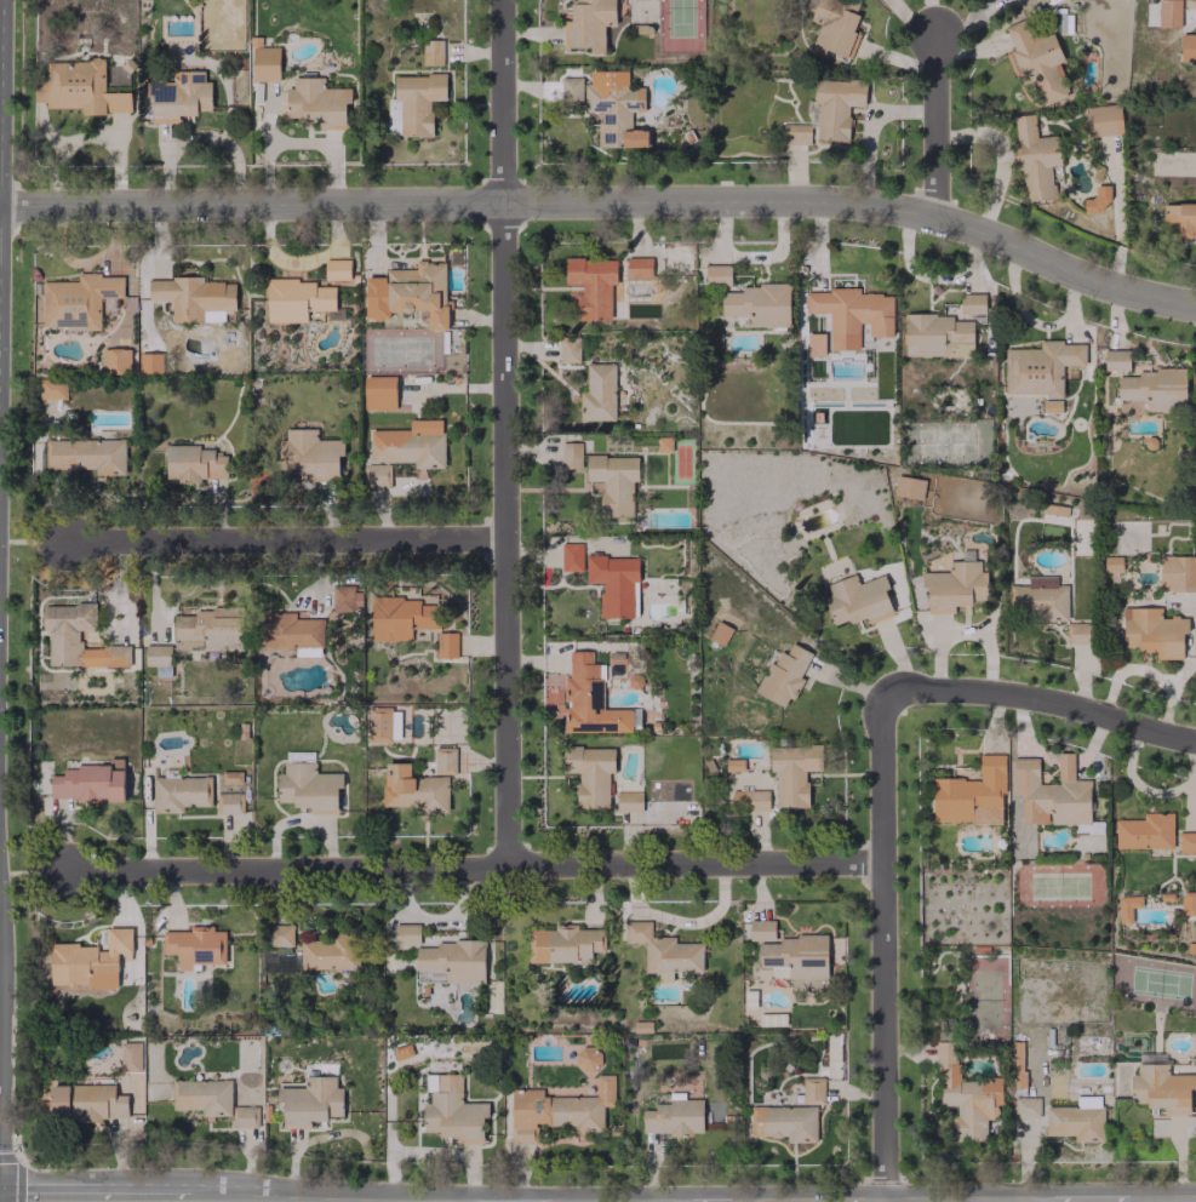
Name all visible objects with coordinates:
building: (1168, 13)
building: (588, 24)
building: (832, 25)
road: (929, 32)
building: (1188, 47)
building: (431, 52)
building: (1036, 61)
building: (264, 63)
building: (79, 88)
building: (570, 90)
building: (179, 97)
building: (316, 102)
building: (417, 102)
building: (835, 105)
building: (614, 108)
building: (1103, 120)
road: (939, 126)
building: (794, 133)
building: (1034, 158)
road: (606, 199)
building: (1095, 200)
building: (1181, 218)
building: (637, 267)
building: (336, 269)
building: (716, 274)
building: (407, 293)
building: (191, 296)
building: (78, 300)
building: (298, 300)
building: (759, 304)
building: (971, 305)
building: (851, 310)
building: (933, 333)
building: (567, 349)
building: (1114, 359)
building: (115, 360)
building: (149, 362)
building: (1040, 367)
building: (51, 389)
building: (1152, 389)
building: (378, 391)
building: (597, 393)
building: (1051, 406)
road: (505, 430)
building: (663, 443)
building: (404, 450)
building: (309, 453)
building: (86, 454)
building: (570, 454)
building: (194, 463)
building: (613, 482)
building: (908, 487)
road: (296, 534)
building: (571, 556)
building: (1111, 563)
building: (1177, 573)
building: (614, 584)
building: (955, 584)
building: (1042, 597)
building: (857, 600)
building: (344, 601)
building: (400, 617)
building: (208, 630)
building: (290, 631)
building: (1149, 631)
building: (719, 633)
building: (1076, 633)
building: (76, 637)
building: (446, 645)
building: (158, 658)
building: (783, 675)
building: (585, 697)
road: (1041, 699)
building: (385, 725)
building: (444, 760)
building: (792, 772)
building: (589, 773)
building: (88, 782)
building: (307, 786)
building: (413, 789)
building: (179, 792)
building: (1051, 792)
building: (971, 795)
building: (749, 799)
building: (628, 801)
building: (228, 803)
building: (1144, 831)
building: (1186, 842)
road: (487, 860)
building: (1188, 901)
building: (1127, 906)
building: (279, 934)
building: (563, 943)
road: (885, 945)
building: (195, 946)
building: (330, 952)
building: (663, 952)
building: (791, 954)
building: (442, 957)
building: (772, 1019)
building: (401, 1052)
building: (586, 1053)
building: (130, 1057)
building: (1160, 1086)
building: (812, 1091)
building: (201, 1095)
building: (966, 1095)
building: (310, 1101)
building: (86, 1103)
building: (1026, 1106)
building: (451, 1109)
building: (557, 1110)
building: (246, 1116)
building: (673, 1116)
building: (783, 1122)
building: (1075, 1122)
road: (1166, 1197)
road: (1086, 1198)
road: (960, 1200)
road: (1036, 1200)
road: (98, 1201)
road: (620, 1201)
road: (676, 1201)
road: (779, 1201)

